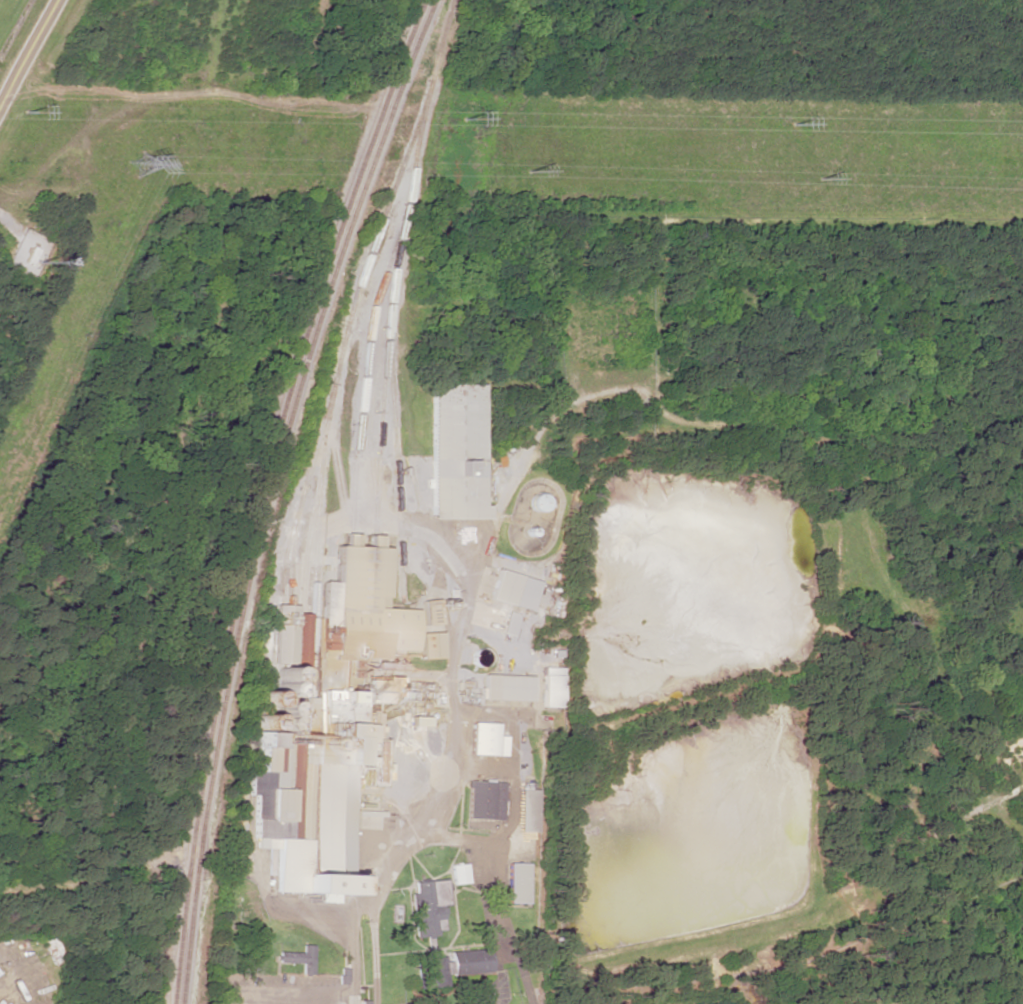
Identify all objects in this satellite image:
railway: (442, 38)
road: (29, 54)
power tower: (32, 114)
power tower: (464, 121)
power tower: (789, 127)
power tower: (143, 165)
power tower: (530, 170)
power tower: (819, 174)
railway: (388, 349)
railway: (363, 375)
railway: (332, 380)
railway: (378, 418)
railway: (365, 449)
building: (454, 452)
railway: (261, 491)
railway: (269, 491)
building: (535, 503)
railway: (297, 510)
railway: (291, 568)
building: (511, 590)
railway: (301, 597)
building: (366, 606)
building: (507, 623)
building: (505, 687)
building: (550, 687)
building: (332, 702)
building: (485, 740)
building: (372, 762)
building: (264, 772)
building: (483, 800)
building: (526, 810)
building: (316, 825)
building: (459, 874)
building: (517, 883)
building: (428, 906)
building: (298, 959)
building: (449, 967)
railway: (172, 1003)
railway: (181, 1003)

